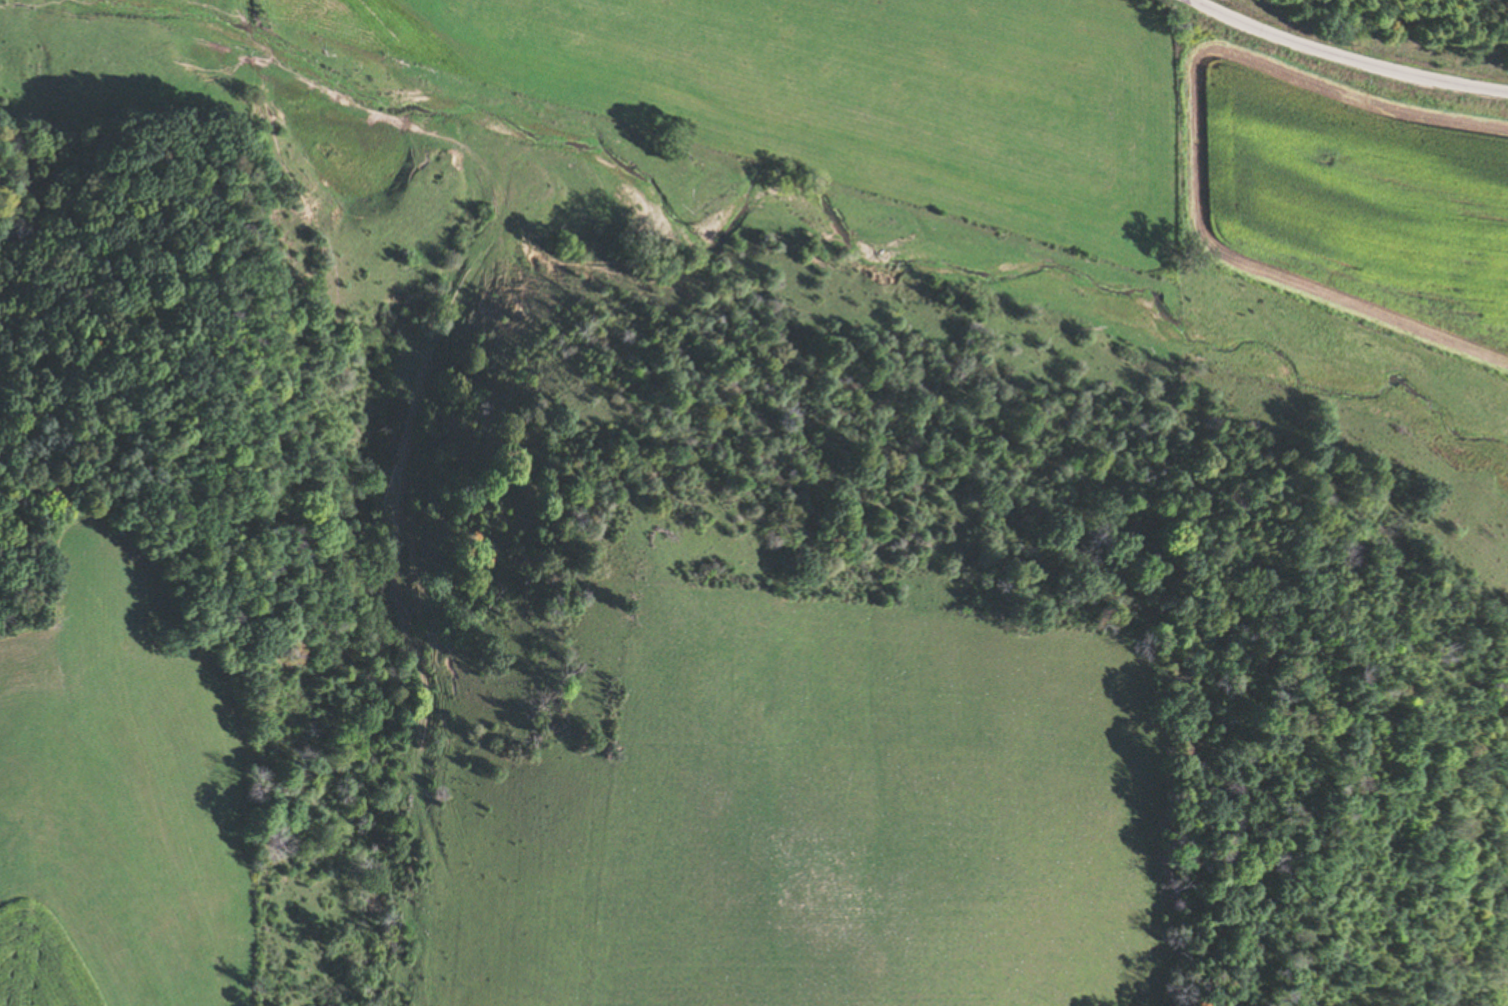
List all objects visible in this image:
road: (1344, 57)
crop: (845, 94)
crop: (1345, 185)
crop: (118, 798)

